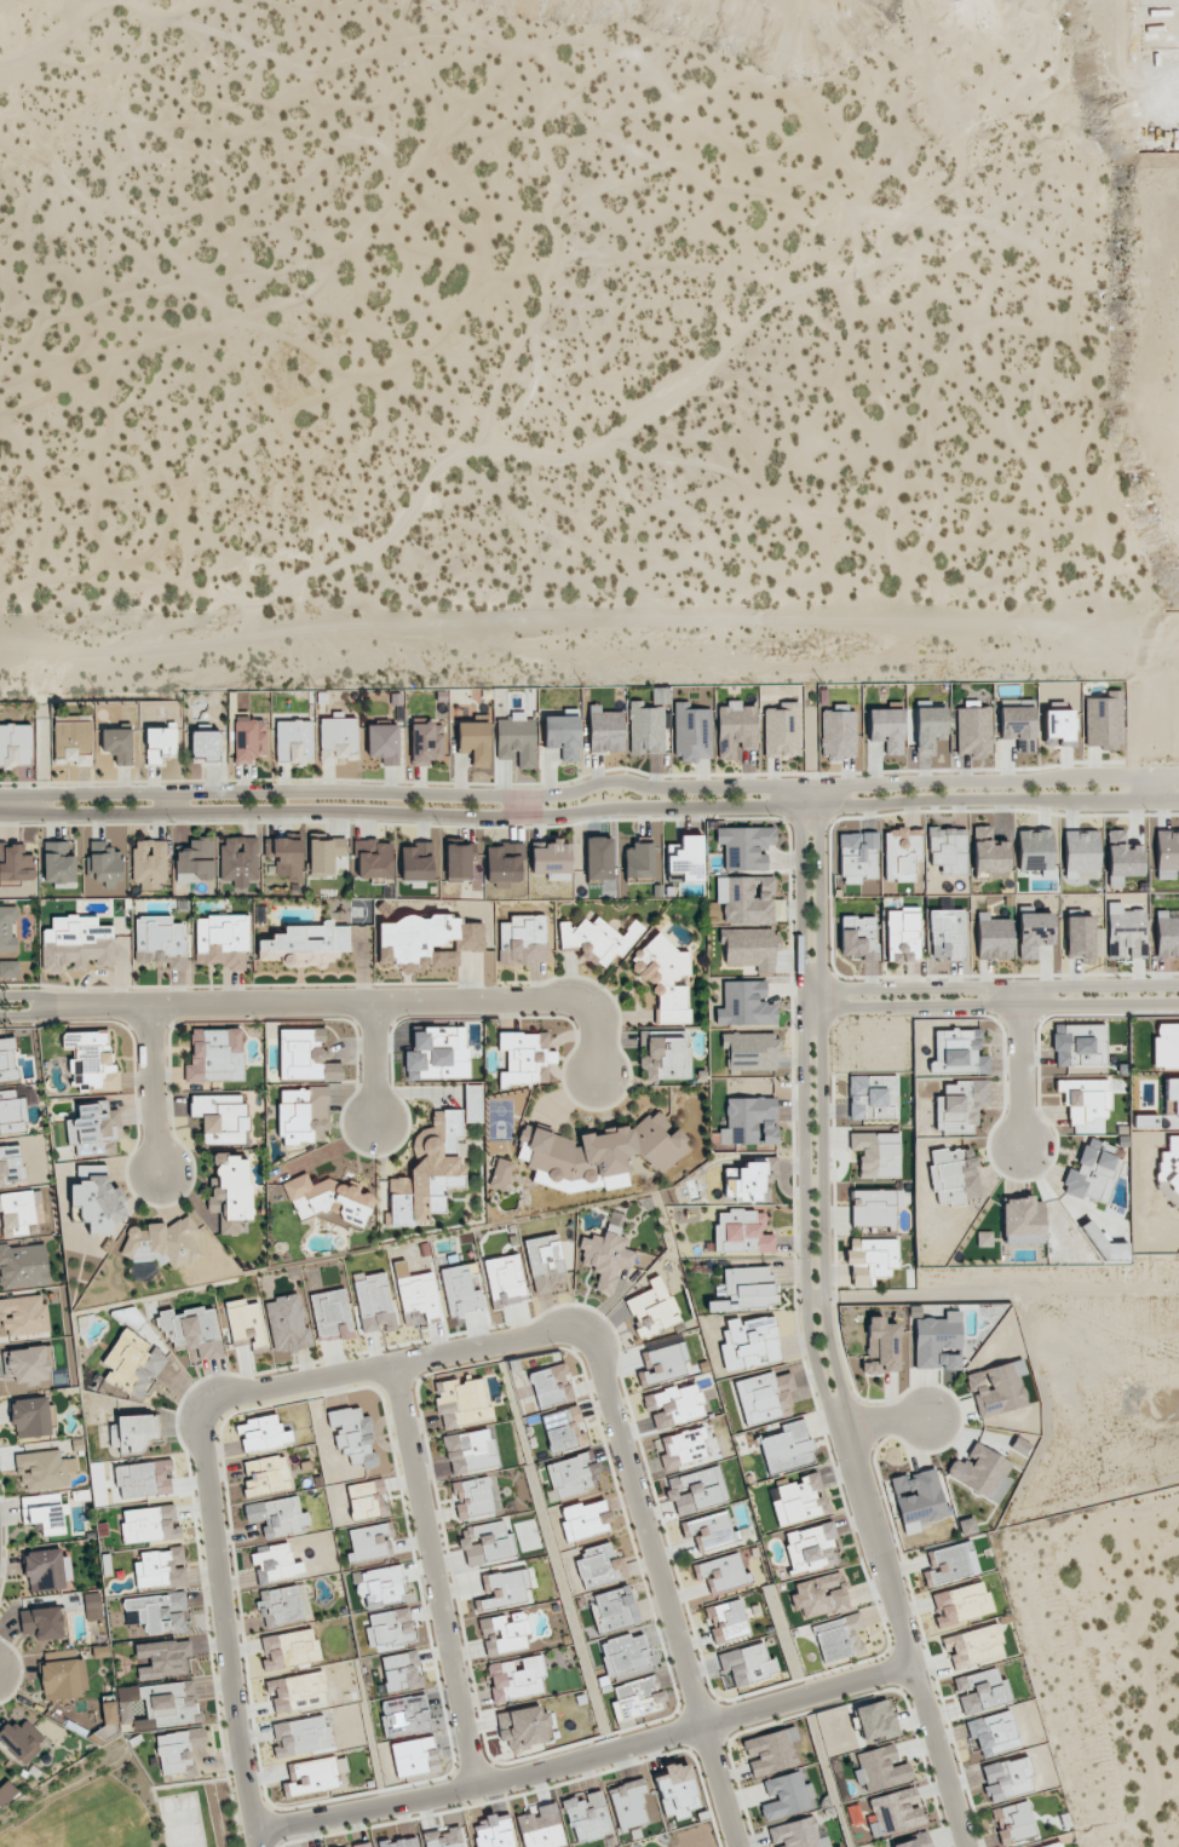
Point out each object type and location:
building: (1104, 721)
building: (1018, 725)
building: (930, 727)
building: (1058, 727)
building: (645, 729)
building: (735, 729)
building: (886, 729)
building: (973, 729)
building: (605, 730)
building: (782, 731)
building: (691, 732)
building: (836, 735)
building: (562, 736)
building: (73, 740)
building: (248, 740)
building: (517, 740)
building: (293, 741)
building: (475, 742)
building: (161, 743)
building: (383, 743)
building: (426, 743)
building: (15, 744)
building: (117, 744)
building: (205, 746)
road: (1152, 796)
road: (11, 801)
road: (5, 802)
road: (167, 802)
road: (525, 806)
building: (746, 847)
building: (948, 848)
building: (1034, 850)
building: (1081, 850)
building: (989, 851)
building: (902, 853)
building: (1167, 853)
building: (858, 855)
building: (286, 856)
building: (326, 856)
building: (551, 858)
building: (598, 858)
building: (1121, 858)
building: (374, 859)
building: (684, 859)
building: (238, 861)
building: (638, 861)
building: (58, 862)
building: (195, 862)
building: (416, 862)
building: (459, 862)
building: (15, 863)
building: (104, 863)
building: (149, 863)
building: (504, 864)
building: (746, 898)
building: (7, 928)
building: (1126, 931)
building: (947, 933)
building: (1034, 933)
building: (903, 934)
building: (1167, 934)
building: (858, 937)
building: (994, 937)
building: (1080, 937)
building: (598, 938)
building: (426, 939)
building: (523, 939)
building: (222, 940)
building: (160, 942)
building: (76, 943)
building: (305, 945)
building: (749, 948)
building: (8, 969)
building: (663, 977)
road: (997, 986)
road: (27, 995)
road: (810, 999)
road: (361, 1001)
building: (746, 1003)
road: (999, 1005)
road: (27, 1015)
building: (1080, 1045)
building: (1166, 1046)
building: (750, 1051)
building: (957, 1052)
building: (301, 1053)
building: (437, 1054)
building: (665, 1054)
building: (215, 1055)
building: (524, 1057)
building: (7, 1059)
building: (90, 1059)
road: (373, 1060)
road: (1019, 1065)
building: (332, 1071)
road: (153, 1087)
building: (1172, 1095)
building: (873, 1097)
building: (1085, 1099)
building: (472, 1103)
building: (959, 1105)
road: (819, 1110)
road: (801, 1111)
building: (11, 1112)
building: (303, 1115)
building: (220, 1117)
building: (749, 1121)
building: (92, 1128)
building: (598, 1151)
building: (876, 1153)
building: (11, 1164)
building: (429, 1172)
building: (499, 1174)
building: (953, 1175)
building: (743, 1181)
building: (231, 1195)
building: (328, 1197)
building: (96, 1198)
building: (873, 1207)
building: (17, 1212)
building: (1022, 1220)
building: (742, 1231)
building: (984, 1238)
building: (162, 1243)
building: (606, 1253)
building: (870, 1260)
building: (545, 1262)
building: (23, 1266)
building: (505, 1281)
building: (746, 1288)
building: (460, 1290)
building: (418, 1296)
road: (813, 1301)
building: (374, 1304)
building: (652, 1308)
building: (24, 1314)
building: (330, 1314)
building: (245, 1323)
building: (287, 1324)
building: (192, 1330)
building: (749, 1342)
building: (937, 1342)
building: (880, 1346)
building: (133, 1363)
road: (391, 1363)
building: (663, 1363)
building: (551, 1385)
building: (997, 1388)
building: (765, 1396)
building: (461, 1402)
building: (674, 1405)
building: (31, 1416)
road: (884, 1421)
building: (562, 1428)
building: (131, 1432)
building: (261, 1433)
building: (352, 1435)
building: (681, 1448)
building: (787, 1448)
building: (470, 1451)
building: (42, 1471)
building: (982, 1472)
building: (265, 1475)
building: (571, 1475)
building: (144, 1478)
building: (696, 1490)
building: (472, 1497)
building: (367, 1498)
building: (919, 1498)
building: (799, 1500)
building: (44, 1513)
building: (277, 1517)
building: (585, 1519)
building: (150, 1524)
building: (967, 1526)
building: (708, 1531)
building: (369, 1542)
building: (485, 1542)
building: (809, 1547)
building: (276, 1564)
building: (948, 1564)
building: (599, 1565)
building: (161, 1569)
building: (44, 1570)
building: (721, 1572)
road: (433, 1575)
building: (378, 1584)
road: (661, 1584)
building: (504, 1587)
building: (819, 1595)
building: (961, 1604)
building: (280, 1605)
building: (92, 1606)
building: (614, 1609)
building: (159, 1612)
building: (727, 1621)
building: (42, 1623)
road: (223, 1624)
building: (389, 1628)
building: (504, 1634)
building: (839, 1636)
road: (903, 1638)
building: (973, 1646)
building: (289, 1649)
building: (622, 1653)
building: (163, 1658)
building: (747, 1663)
building: (401, 1670)
building: (63, 1679)
building: (516, 1679)
building: (980, 1691)
building: (297, 1692)
building: (637, 1697)
building: (168, 1702)
building: (125, 1710)
building: (108, 1713)
building: (404, 1715)
building: (875, 1720)
building: (523, 1726)
building: (994, 1732)
building: (300, 1736)
building: (21, 1740)
building: (172, 1751)
building: (771, 1751)
building: (413, 1755)
road: (585, 1759)
building: (880, 1768)
building: (311, 1776)
building: (1007, 1777)
building: (677, 1790)
building: (6, 1793)
building: (787, 1796)
building: (627, 1803)
park: (119, 1807)
building: (895, 1812)
building: (587, 1816)
building: (1013, 1822)
building: (541, 1828)
building: (493, 1831)
building: (796, 1834)
building: (443, 1837)
building: (914, 1841)
building: (399, 1842)
building: (360, 1845)
building: (1053, 1845)

